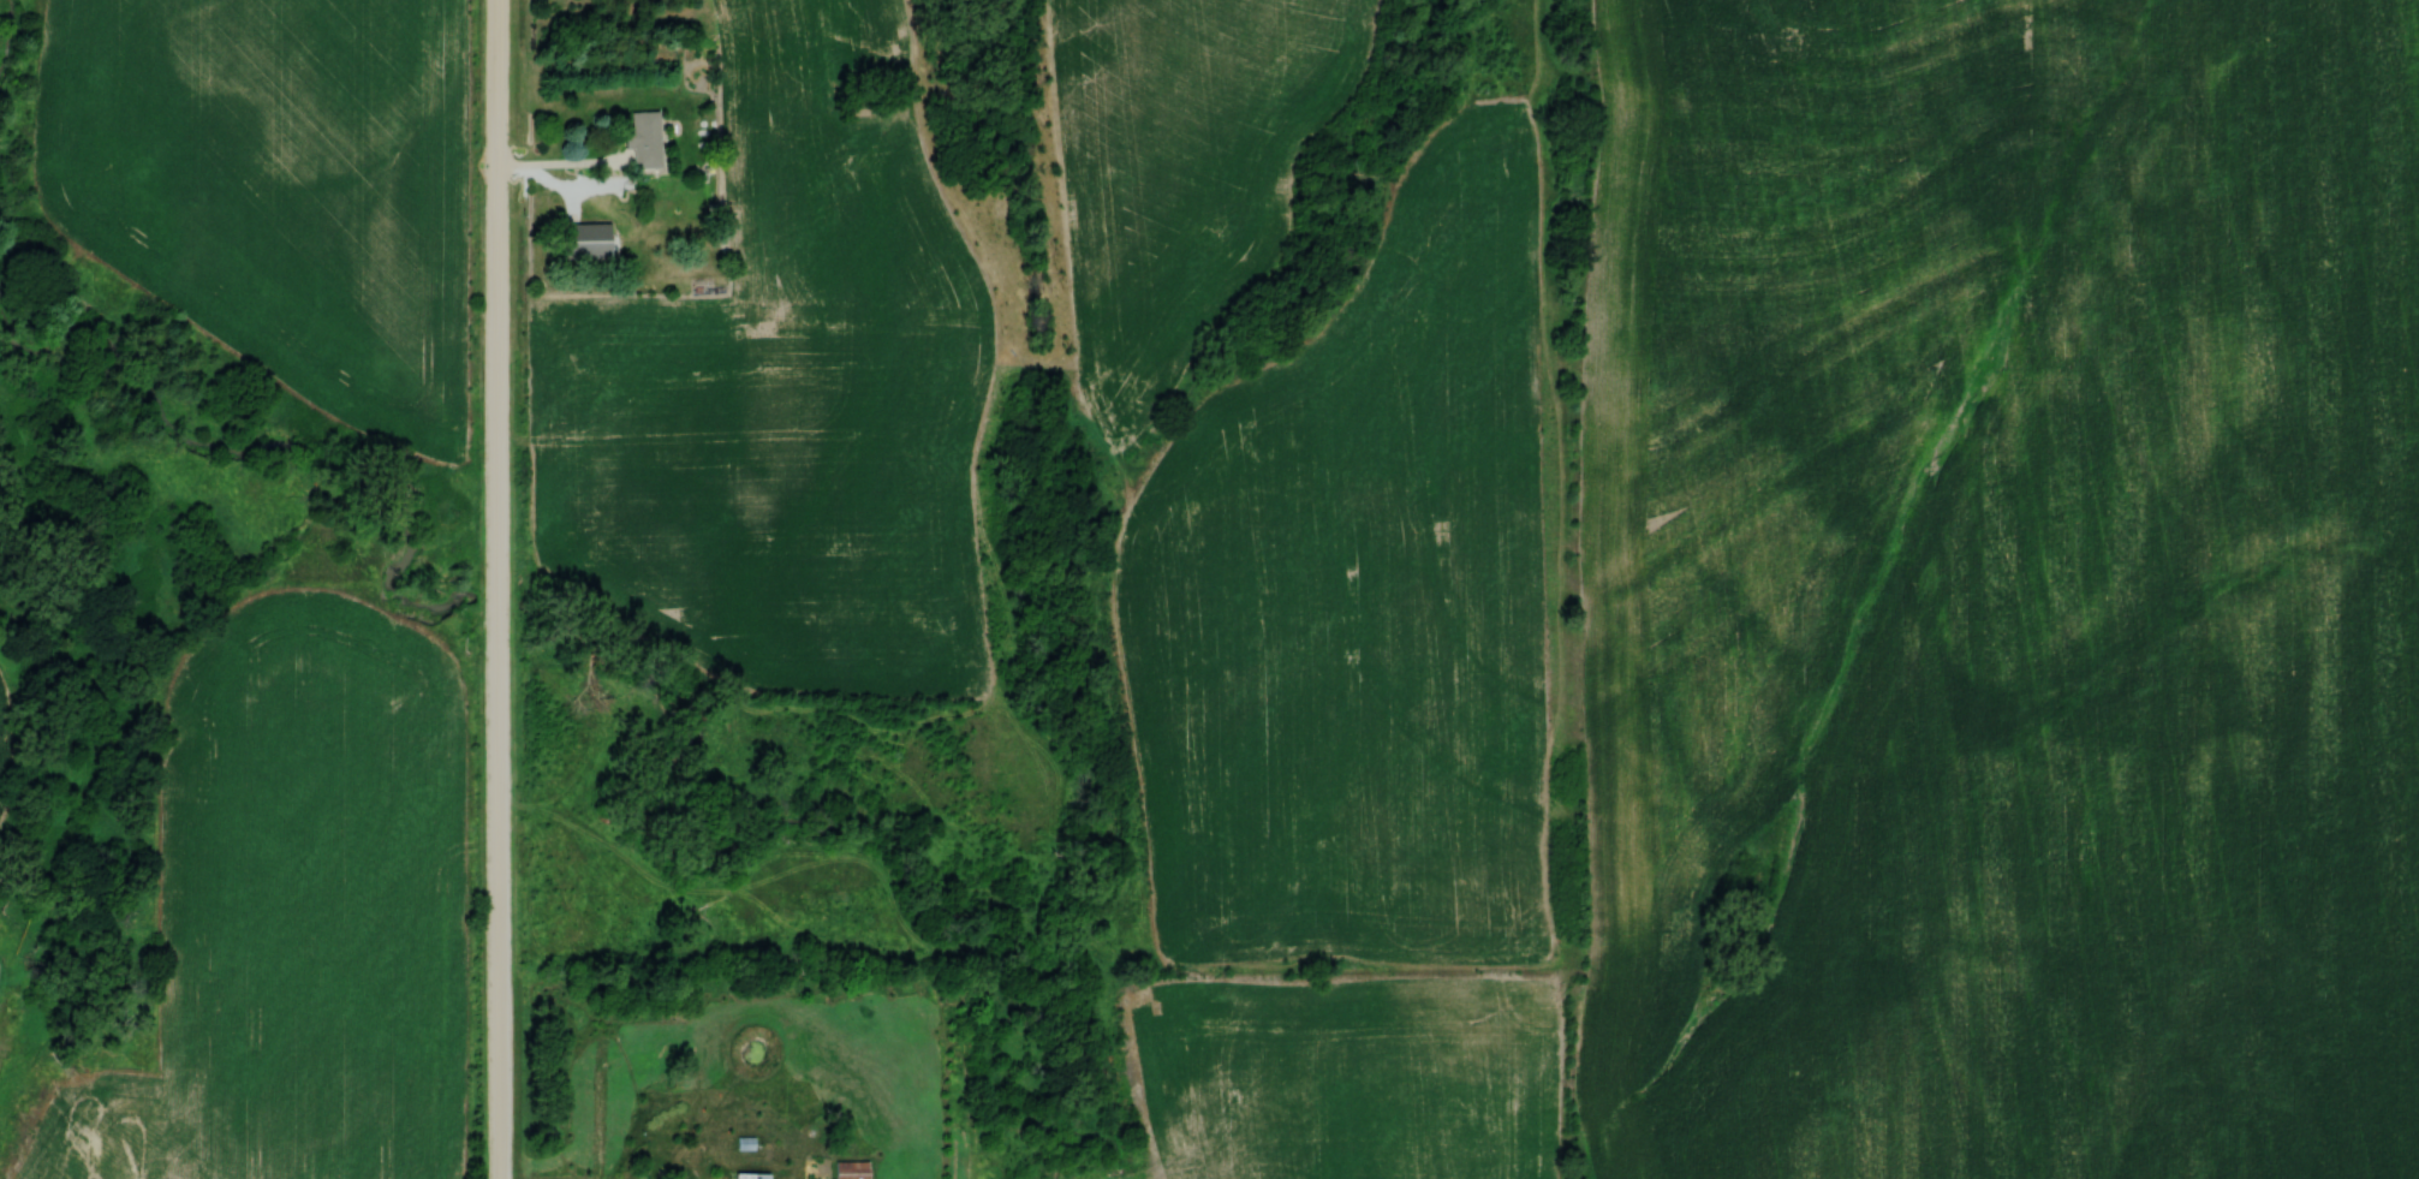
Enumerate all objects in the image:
building: (641, 141)
road: (564, 162)
building: (583, 242)
road: (499, 589)
building: (850, 1171)
building: (749, 1175)

